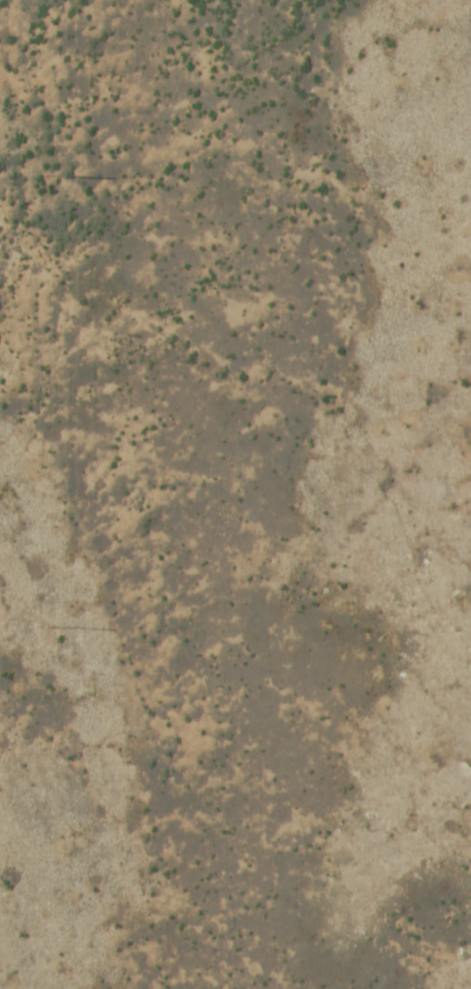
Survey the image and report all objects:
power tower: (54, 175)
power tower: (52, 629)

